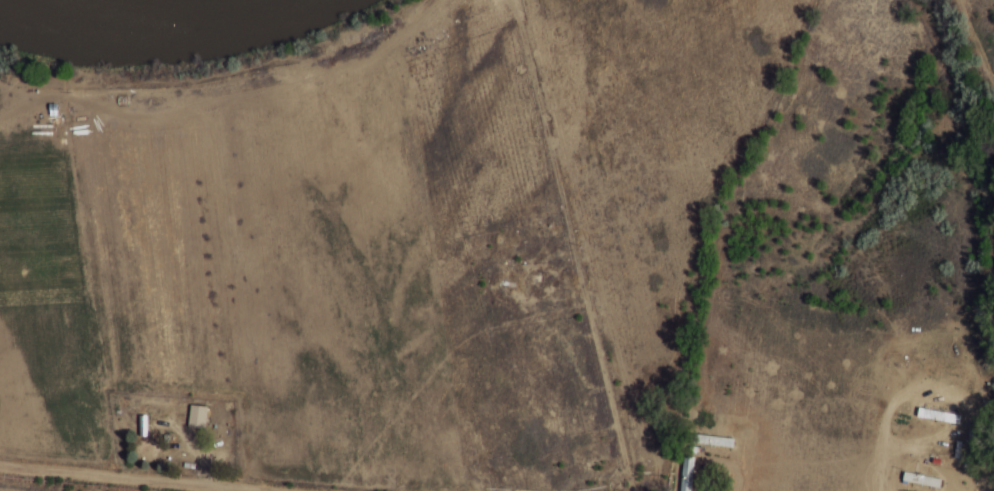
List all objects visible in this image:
building: (470, 1)
river: (174, 6)
river: (980, 115)
road: (600, 387)
building: (946, 415)
building: (198, 416)
building: (716, 440)
building: (687, 473)
road: (123, 479)

